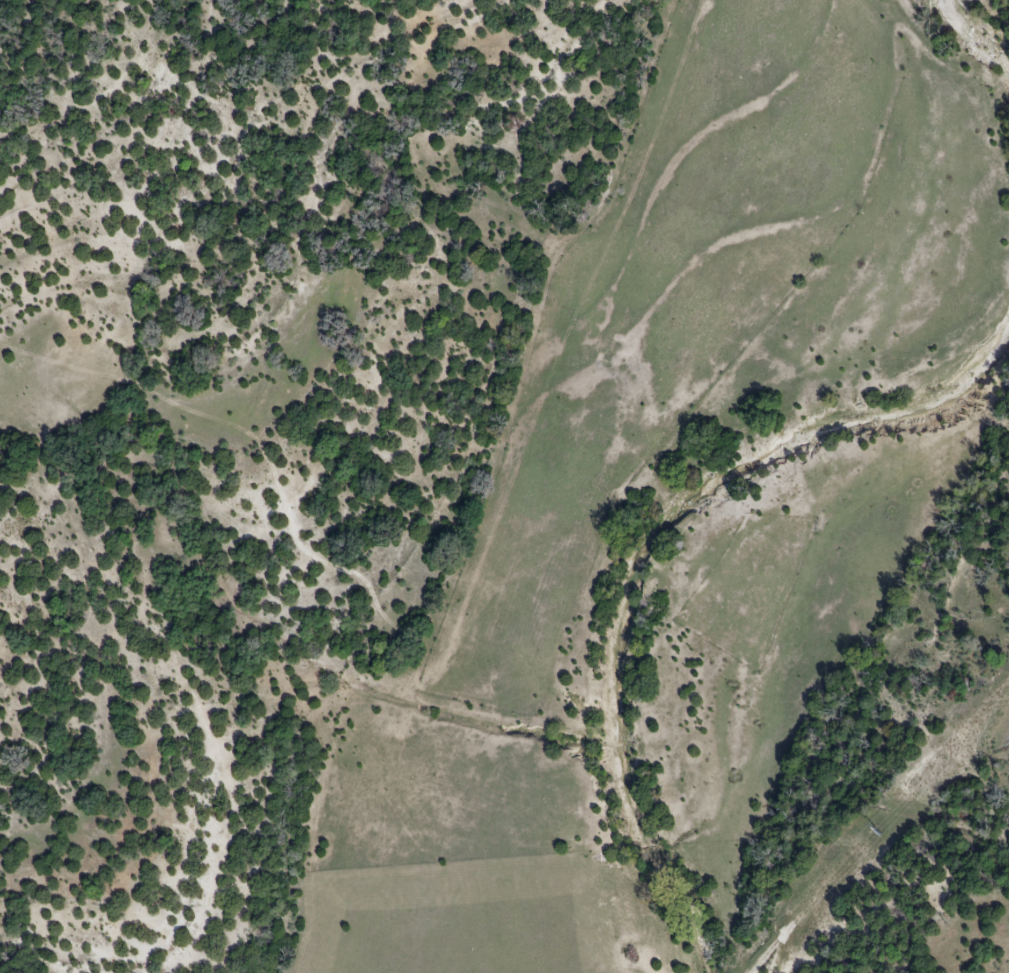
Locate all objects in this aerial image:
power tower: (879, 833)

